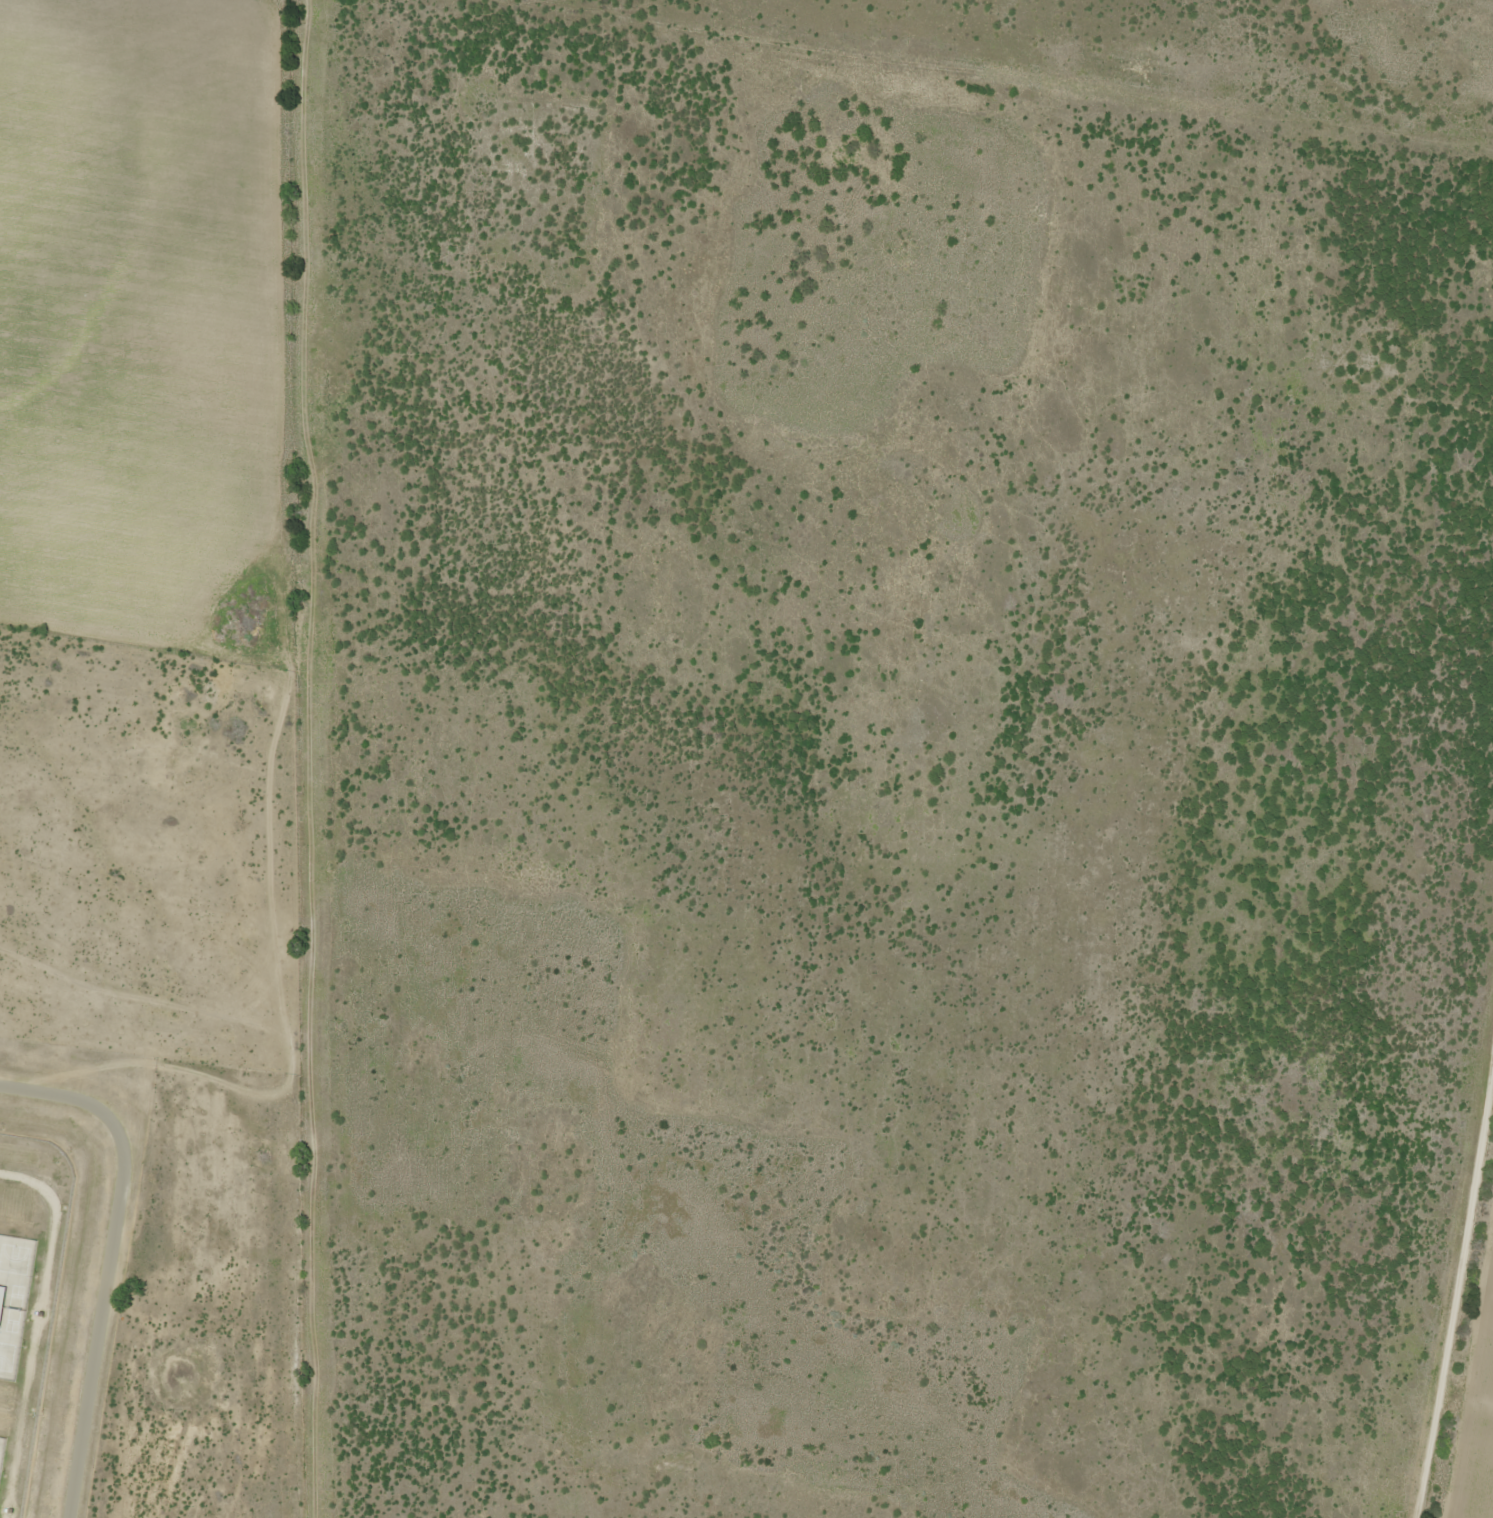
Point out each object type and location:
road: (305, 759)
road: (105, 1262)
road: (1454, 1281)
building: (0, 1292)
road: (1464, 1395)

